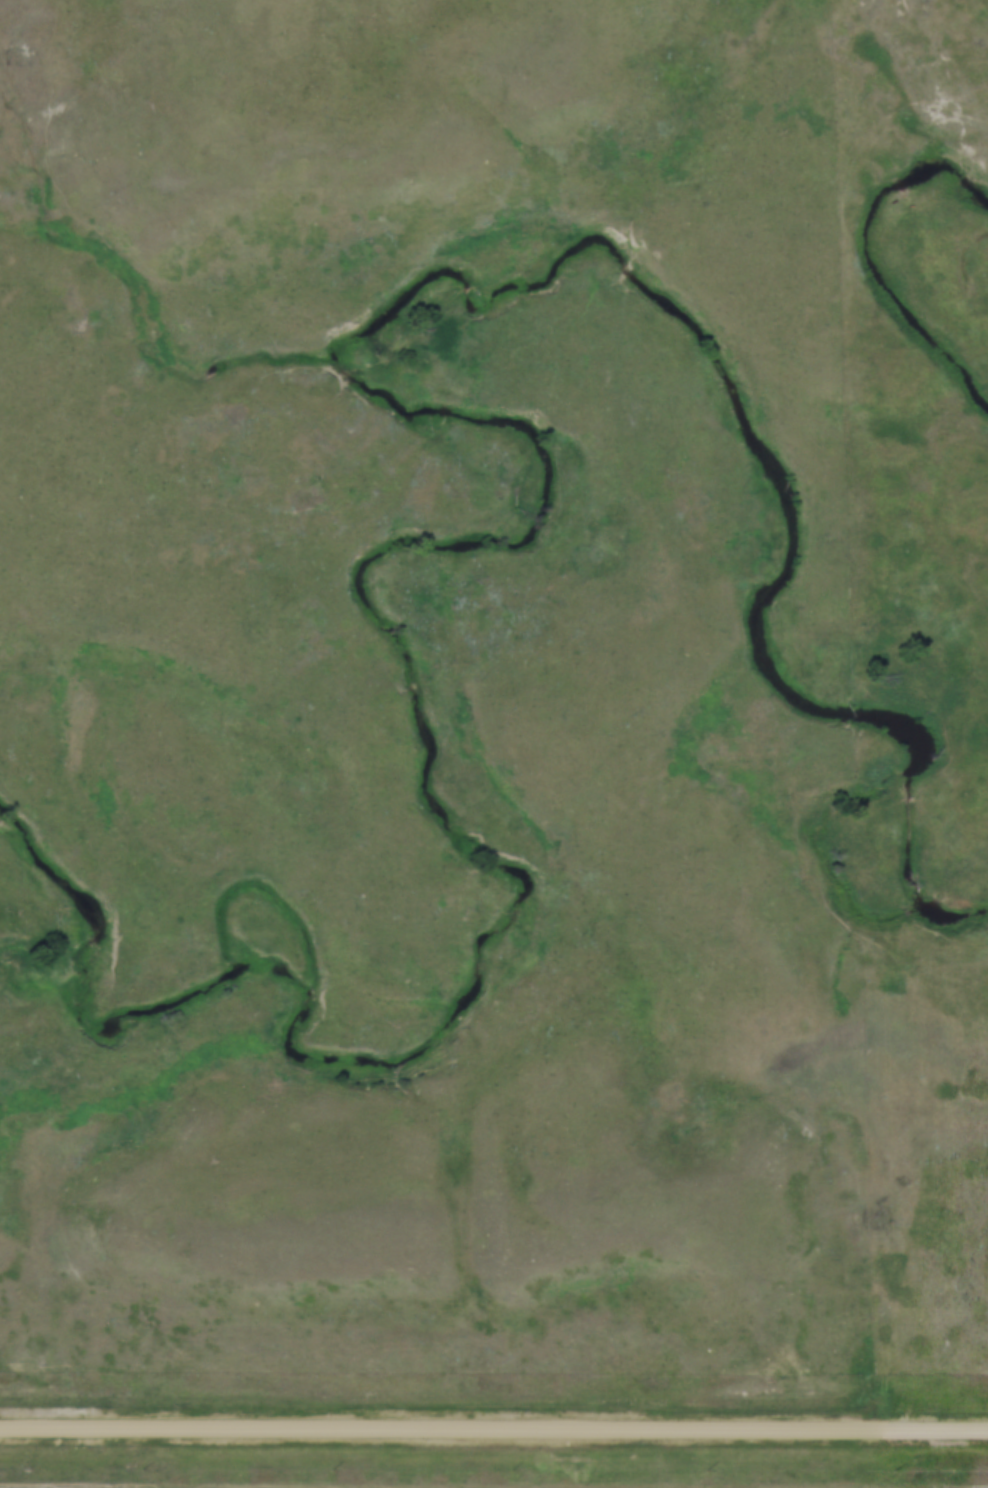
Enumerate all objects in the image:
road: (493, 1424)

